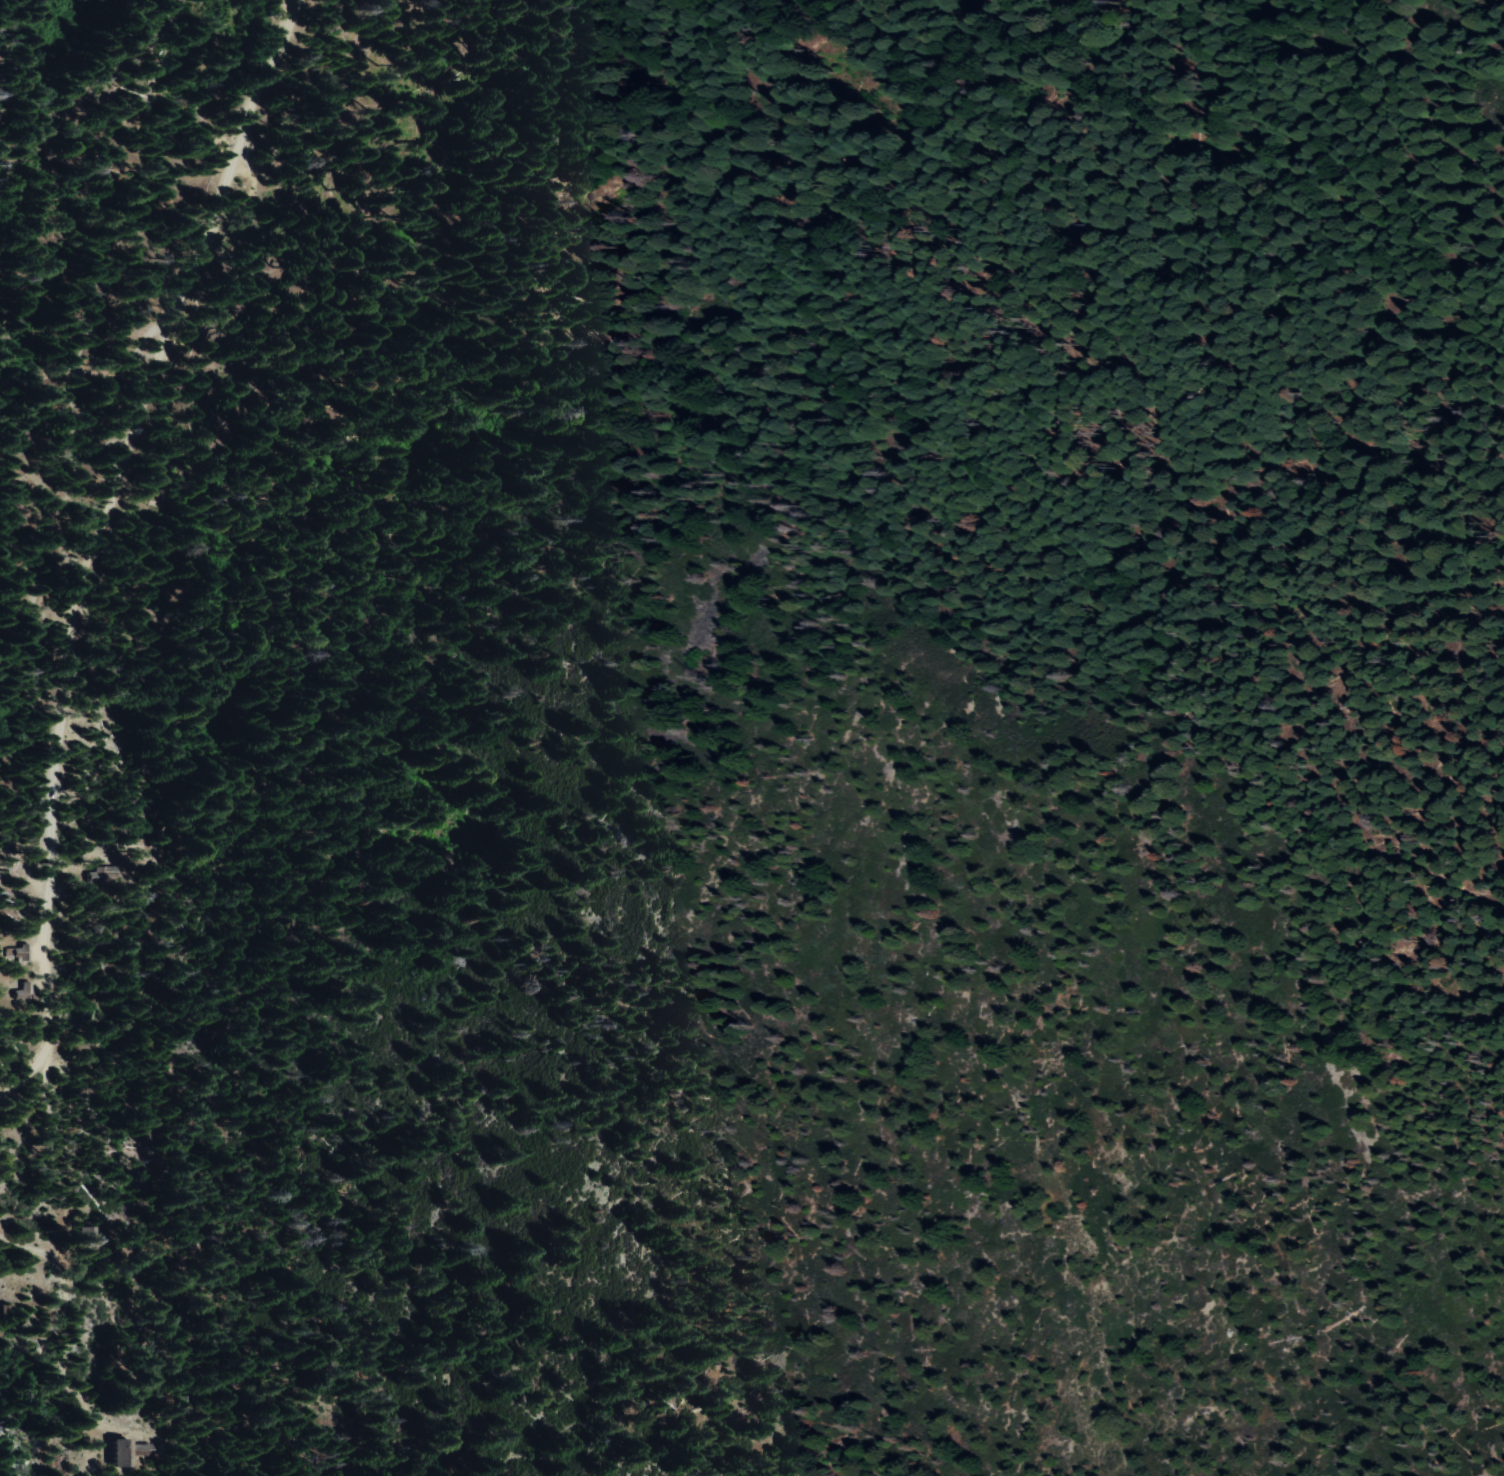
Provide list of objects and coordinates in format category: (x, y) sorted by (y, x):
road: (96, 374)
road: (96, 542)
building: (98, 875)
building: (16, 952)
building: (20, 991)
building: (82, 1235)
road: (63, 1368)
building: (115, 1451)

